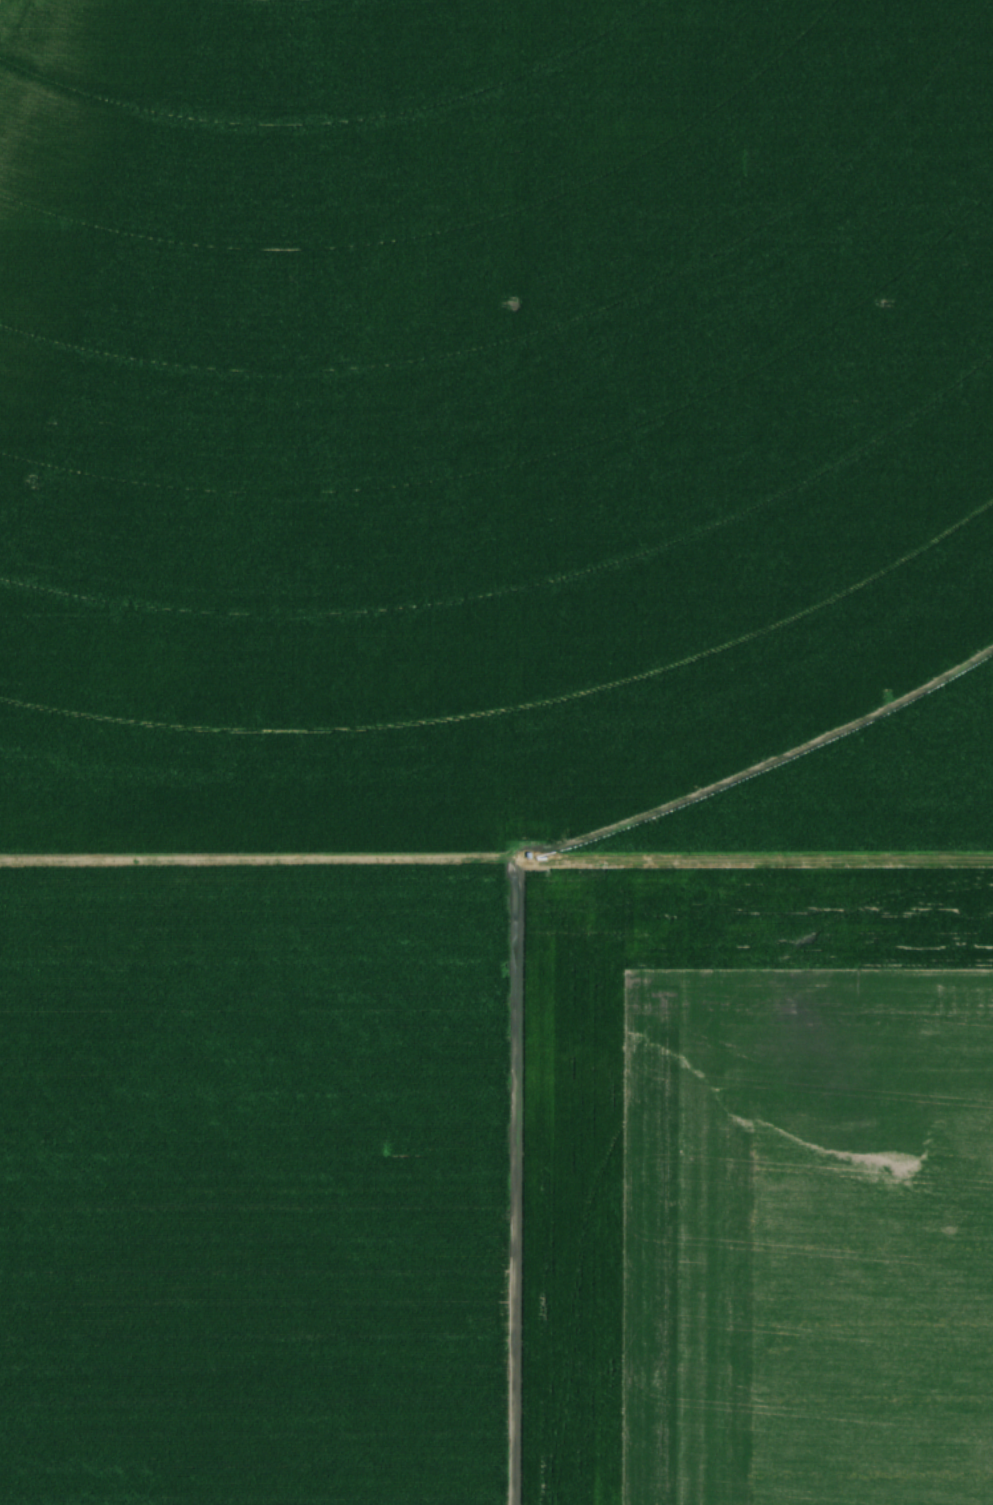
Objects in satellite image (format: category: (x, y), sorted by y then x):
crop: (255, 1185)

